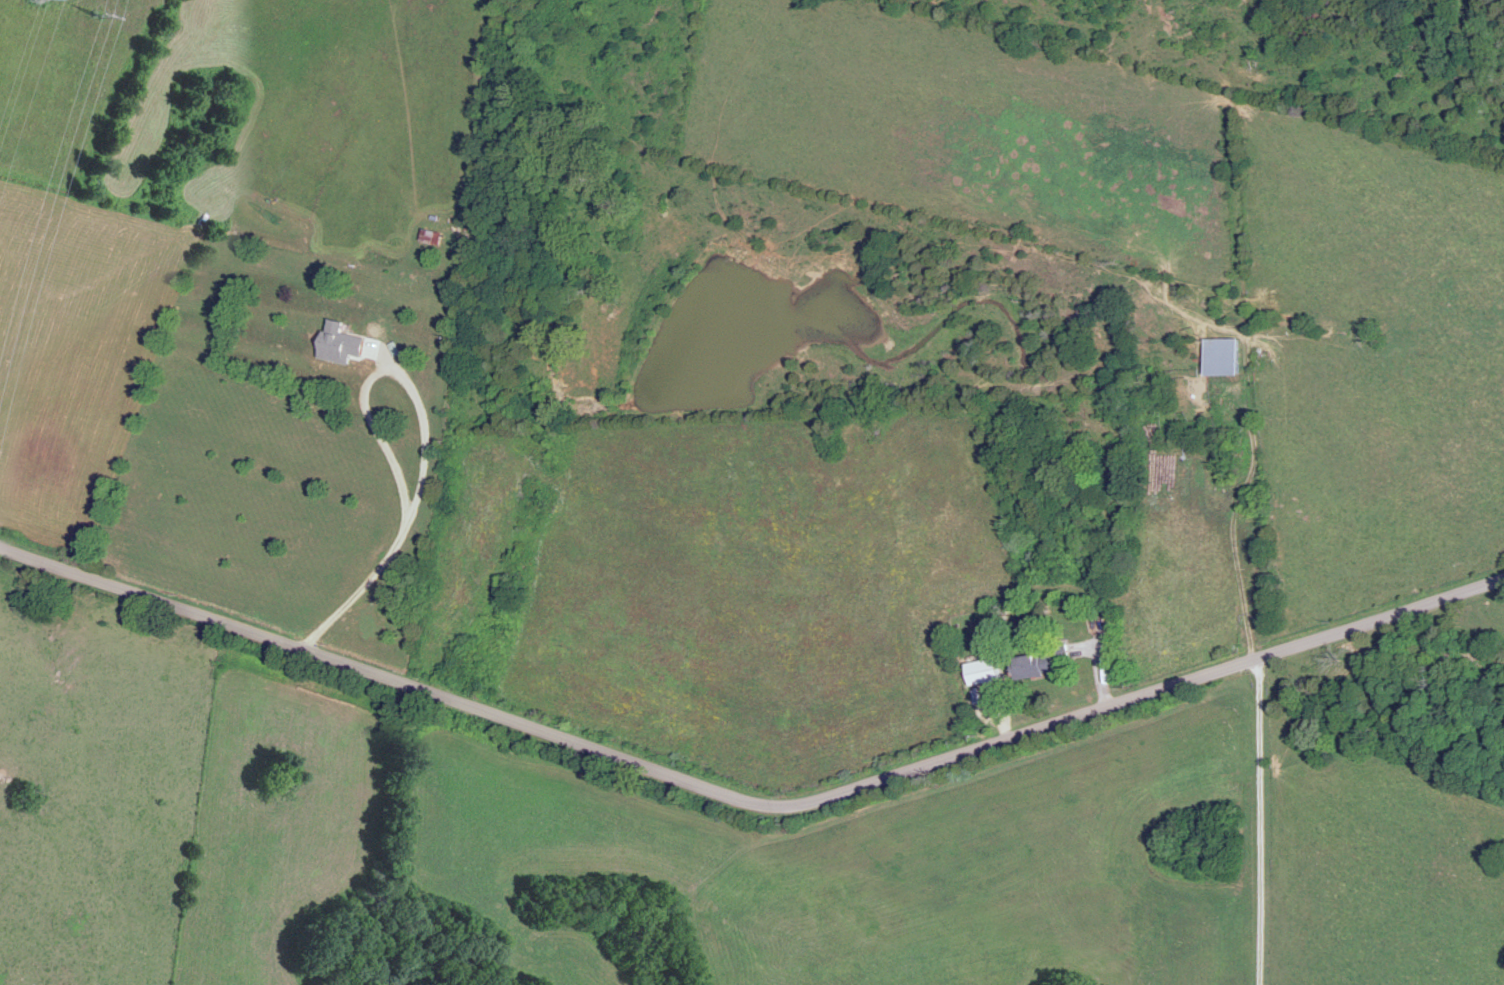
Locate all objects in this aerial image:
building: (433, 234)
building: (340, 340)
building: (1224, 354)
building: (1040, 663)
road: (750, 798)
road: (1258, 817)

